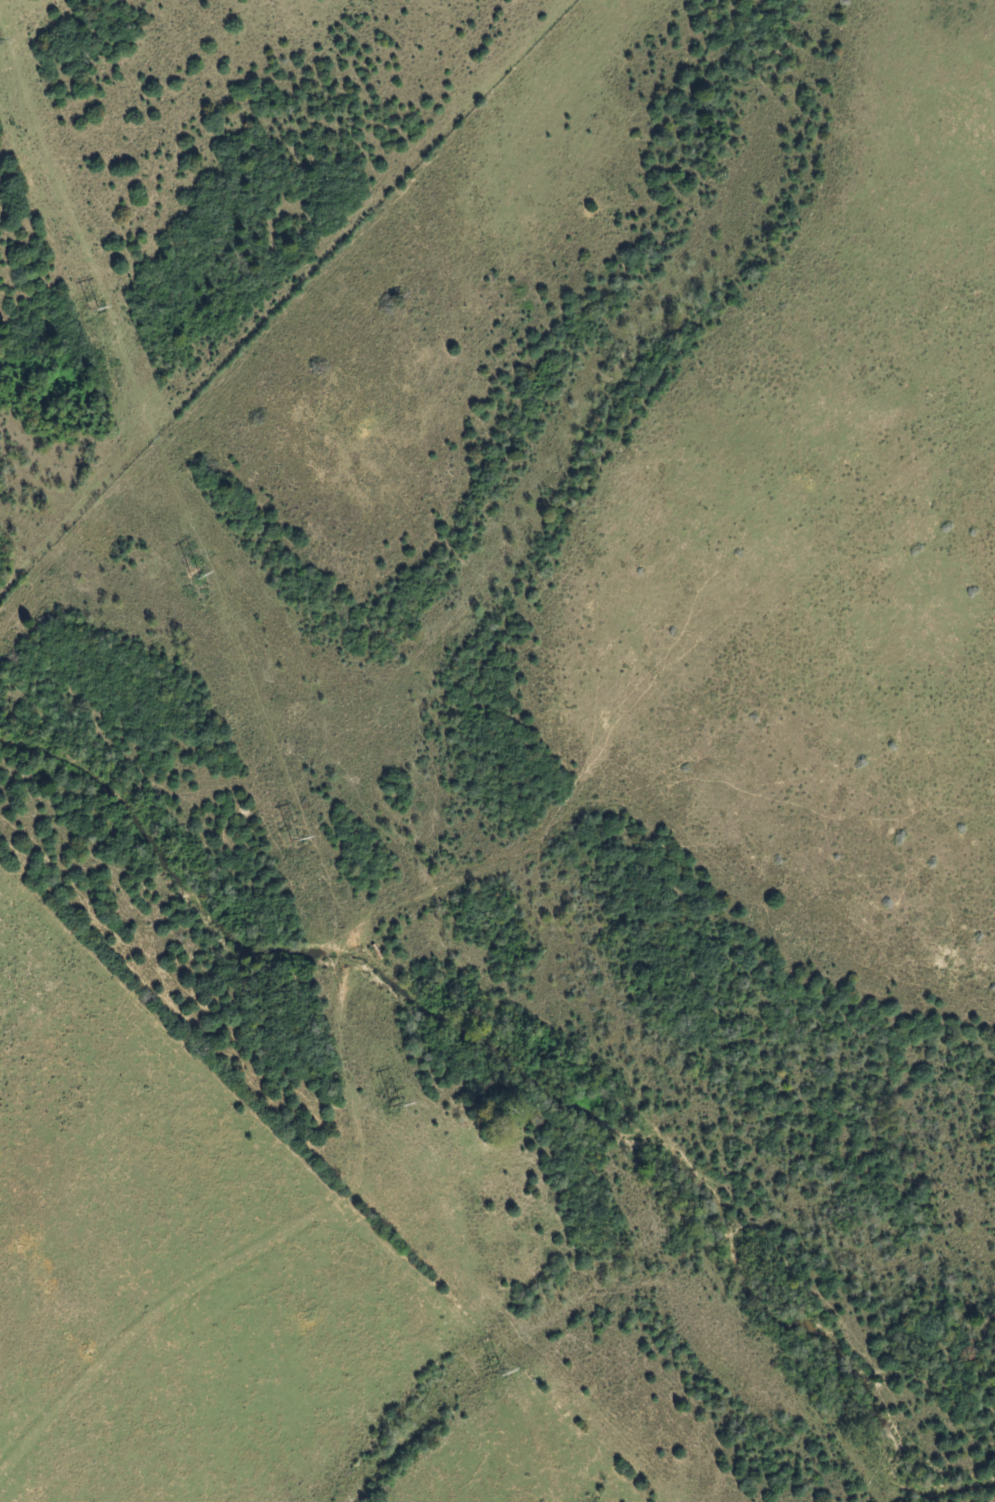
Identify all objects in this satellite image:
power tower: (88, 307)
power tower: (189, 574)
power tower: (285, 839)
power tower: (385, 1109)
power tower: (489, 1372)

